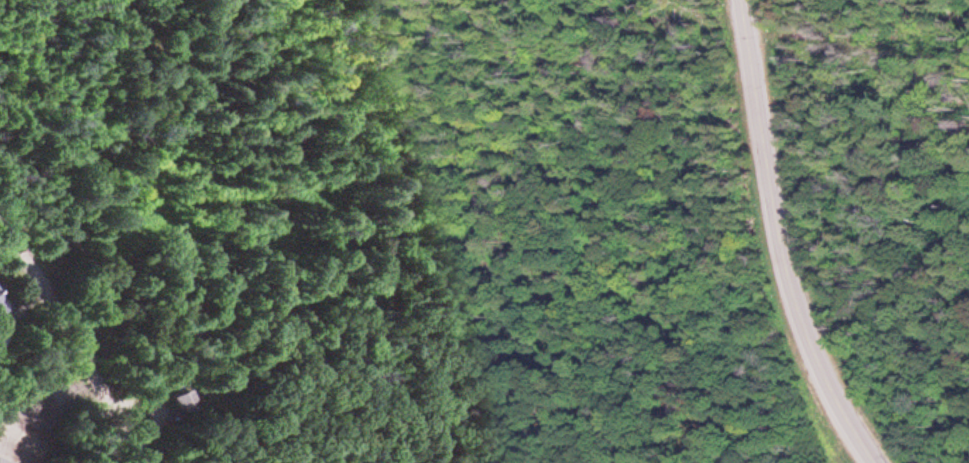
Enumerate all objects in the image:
road: (780, 241)
road: (70, 343)

